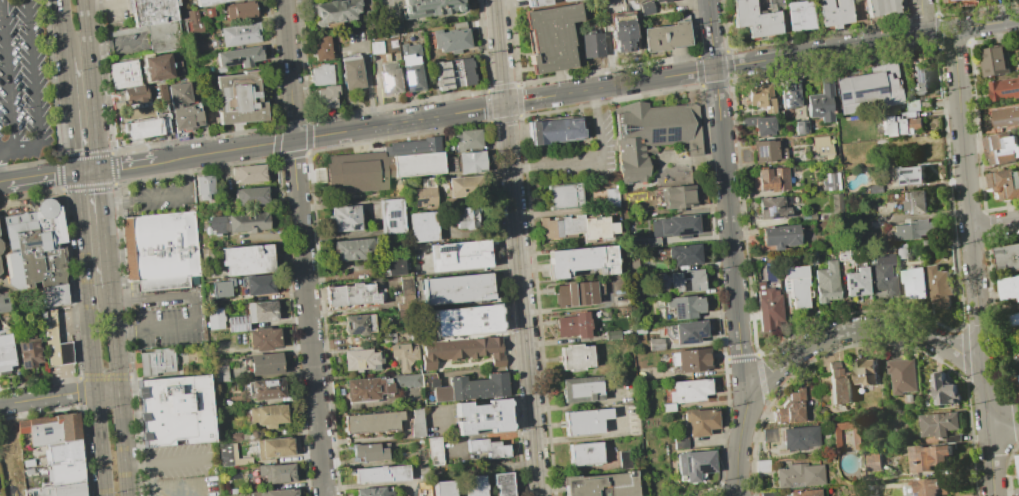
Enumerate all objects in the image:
building: (562, 0)
building: (655, 0)
building: (664, 1)
building: (951, 1)
building: (213, 2)
building: (536, 3)
building: (775, 3)
building: (427, 7)
building: (880, 7)
building: (645, 8)
rooftop solar panel: (408, 9)
rooftop solar panel: (424, 10)
building: (153, 11)
building: (332, 11)
building: (213, 12)
building: (243, 12)
building: (833, 12)
building: (799, 15)
road: (922, 17)
building: (754, 19)
building: (194, 22)
road: (986, 23)
road: (63, 28)
road: (938, 30)
building: (622, 32)
road: (712, 34)
building: (242, 35)
building: (167, 36)
building: (551, 36)
building: (665, 36)
building: (447, 39)
building: (591, 45)
building: (374, 47)
building: (320, 48)
building: (242, 57)
building: (992, 60)
building: (410, 66)
building: (162, 67)
rooftop solar panel: (441, 68)
building: (351, 72)
building: (127, 73)
building: (454, 73)
road: (9, 75)
building: (319, 75)
rooftop solar panel: (916, 75)
rooftop solar panel: (443, 76)
building: (388, 78)
building: (919, 78)
rooftop solar panel: (386, 80)
parking lot: (22, 82)
rooftop solar panel: (444, 83)
road: (90, 85)
building: (1004, 88)
rooftop solar panel: (867, 89)
building: (868, 89)
road: (34, 90)
rooftop solar panel: (1011, 90)
building: (139, 94)
building: (789, 94)
rooftop solar panel: (794, 94)
rooftop solar panel: (843, 94)
building: (324, 96)
building: (760, 97)
building: (241, 98)
road: (538, 98)
building: (821, 99)
rooftop solar panel: (783, 102)
rooftop solar panel: (792, 102)
traffic signals: (504, 104)
building: (913, 105)
building: (145, 106)
building: (184, 109)
road: (71, 115)
building: (1005, 116)
building: (760, 124)
building: (900, 124)
rooftop solar panel: (806, 125)
building: (147, 127)
building: (800, 127)
rooftop solar panel: (798, 128)
rooftop solar panel: (672, 133)
building: (651, 134)
rooftop solar panel: (653, 135)
building: (469, 138)
building: (562, 143)
building: (822, 146)
building: (780, 149)
building: (1002, 149)
building: (765, 150)
rooftop solar panel: (760, 151)
building: (471, 162)
building: (382, 165)
road: (125, 166)
traffic signals: (98, 170)
road: (87, 171)
traffic signals: (77, 173)
building: (250, 173)
building: (907, 175)
road: (42, 178)
building: (772, 178)
rooftop solar panel: (1018, 178)
building: (830, 182)
building: (1005, 183)
road: (4, 184)
building: (205, 186)
building: (465, 188)
building: (874, 189)
building: (255, 195)
building: (563, 195)
parking lot: (156, 196)
road: (161, 196)
building: (424, 197)
building: (677, 197)
building: (610, 198)
road: (967, 199)
building: (632, 200)
building: (835, 202)
building: (916, 202)
building: (772, 208)
rooftop solar panel: (768, 210)
rooftop solar panel: (392, 214)
rooftop solar panel: (787, 214)
road: (933, 215)
building: (390, 216)
building: (806, 216)
building: (462, 217)
rooftop solar panel: (773, 217)
building: (347, 218)
building: (245, 221)
building: (69, 224)
rooftop solar panel: (390, 224)
road: (994, 225)
building: (674, 226)
rooftop solar panel: (353, 227)
building: (423, 227)
building: (575, 227)
road: (103, 228)
rooftop solar panel: (683, 228)
building: (911, 229)
rooftop solar panel: (684, 232)
road: (729, 234)
building: (779, 235)
building: (0, 247)
road: (516, 247)
building: (35, 248)
building: (160, 248)
road: (300, 248)
building: (351, 250)
building: (900, 251)
building: (460, 255)
building: (683, 255)
building: (842, 255)
building: (811, 257)
building: (1008, 257)
building: (250, 259)
building: (580, 261)
building: (392, 266)
building: (0, 272)
building: (883, 273)
building: (686, 280)
building: (826, 282)
building: (855, 282)
building: (915, 282)
building: (261, 285)
building: (797, 285)
building: (938, 285)
building: (1010, 286)
building: (225, 288)
building: (456, 289)
building: (406, 291)
building: (574, 294)
building: (56, 295)
building: (351, 296)
building: (5, 302)
building: (685, 306)
building: (768, 307)
road: (194, 308)
building: (265, 312)
parking lot: (167, 318)
building: (1014, 318)
building: (219, 319)
road: (68, 321)
building: (465, 322)
building: (242, 324)
building: (358, 324)
building: (574, 325)
road: (858, 328)
building: (689, 332)
road: (91, 334)
rooftop solar panel: (697, 334)
building: (50, 337)
building: (387, 337)
building: (267, 339)
rooftop solar panel: (686, 340)
building: (655, 344)
building: (462, 352)
road: (67, 353)
building: (6, 354)
building: (29, 354)
building: (65, 354)
building: (404, 356)
building: (575, 358)
building: (361, 360)
building: (693, 361)
building: (160, 362)
building: (1016, 362)
building: (267, 364)
building: (865, 371)
building: (219, 373)
building: (902, 375)
road: (69, 379)
building: (1017, 382)
building: (838, 384)
building: (471, 388)
building: (269, 389)
building: (368, 389)
building: (582, 389)
building: (690, 390)
building: (944, 390)
road: (107, 391)
road: (117, 392)
road: (985, 394)
road: (48, 397)
building: (790, 408)
building: (178, 412)
building: (272, 415)
building: (483, 417)
road: (1003, 419)
building: (585, 421)
building: (373, 423)
building: (417, 423)
building: (701, 423)
building: (937, 423)
building: (50, 429)
road: (487, 435)
building: (239, 437)
building: (798, 437)
building: (835, 438)
building: (680, 441)
road: (738, 447)
building: (278, 448)
building: (486, 448)
building: (433, 451)
building: (369, 452)
building: (62, 453)
building: (585, 454)
building: (232, 456)
road: (990, 456)
building: (927, 457)
building: (1018, 459)
road: (167, 460)
parking lot: (181, 461)
building: (873, 462)
building: (695, 465)
building: (27, 470)
building: (281, 473)
building: (62, 474)
building: (382, 474)
building: (798, 475)
building: (503, 484)
road: (368, 485)
building: (600, 485)
parking lot: (186, 486)
building: (474, 486)
building: (927, 487)
building: (443, 489)
building: (57, 490)
building: (372, 492)
building: (803, 492)
building: (283, 493)
building: (255, 494)
road: (194, 495)
building: (1017, 495)

